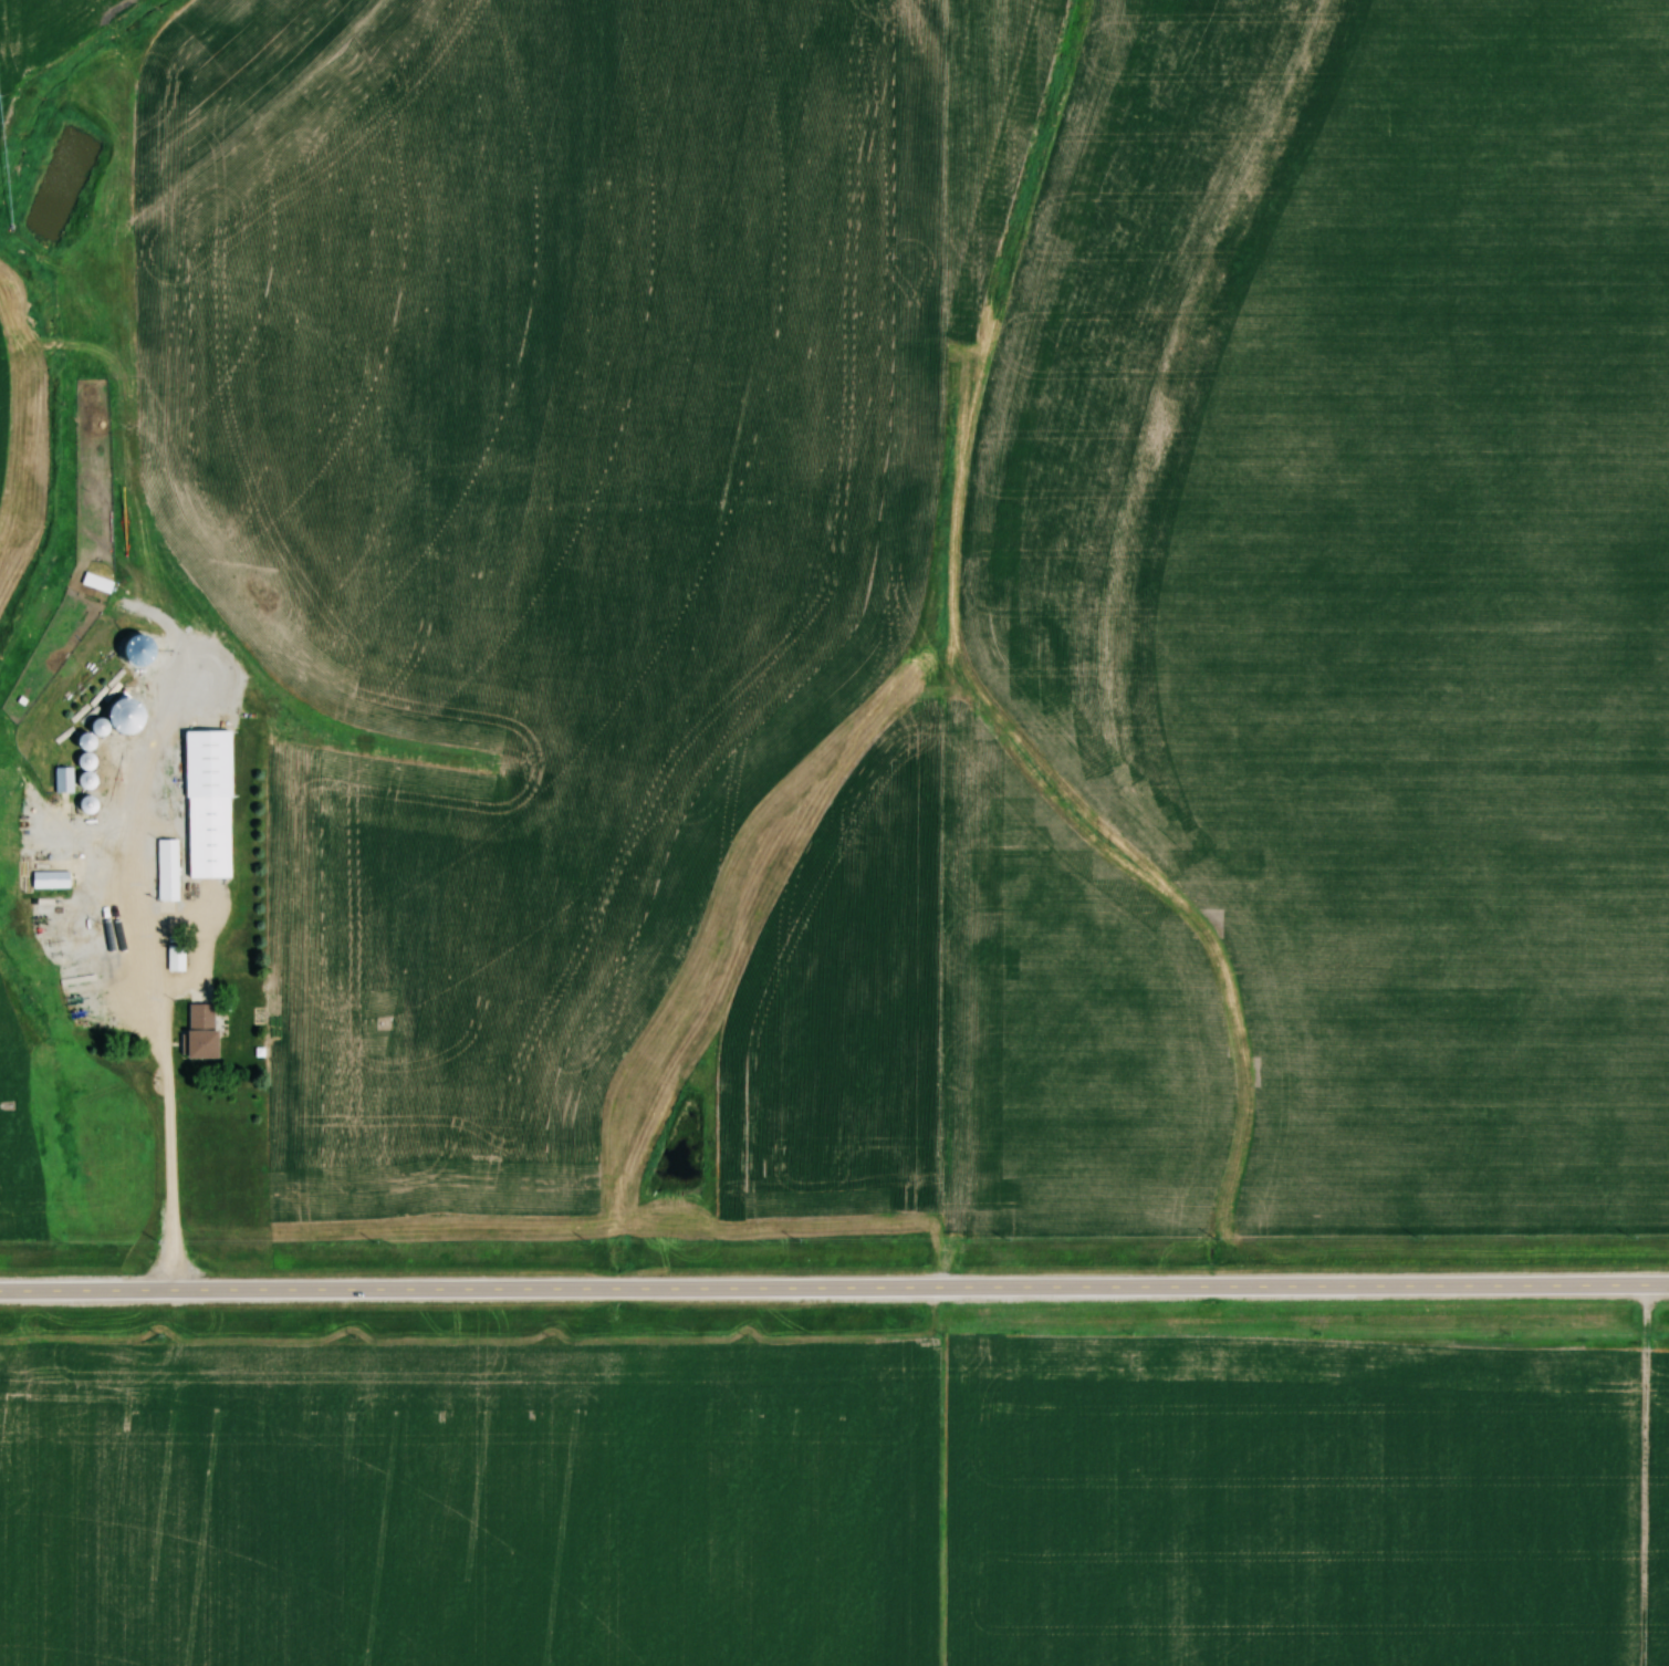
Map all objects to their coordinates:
building: (213, 803)
building: (85, 840)
building: (171, 870)
building: (53, 879)
building: (179, 957)
building: (207, 1031)
road: (173, 1162)
road: (834, 1292)

